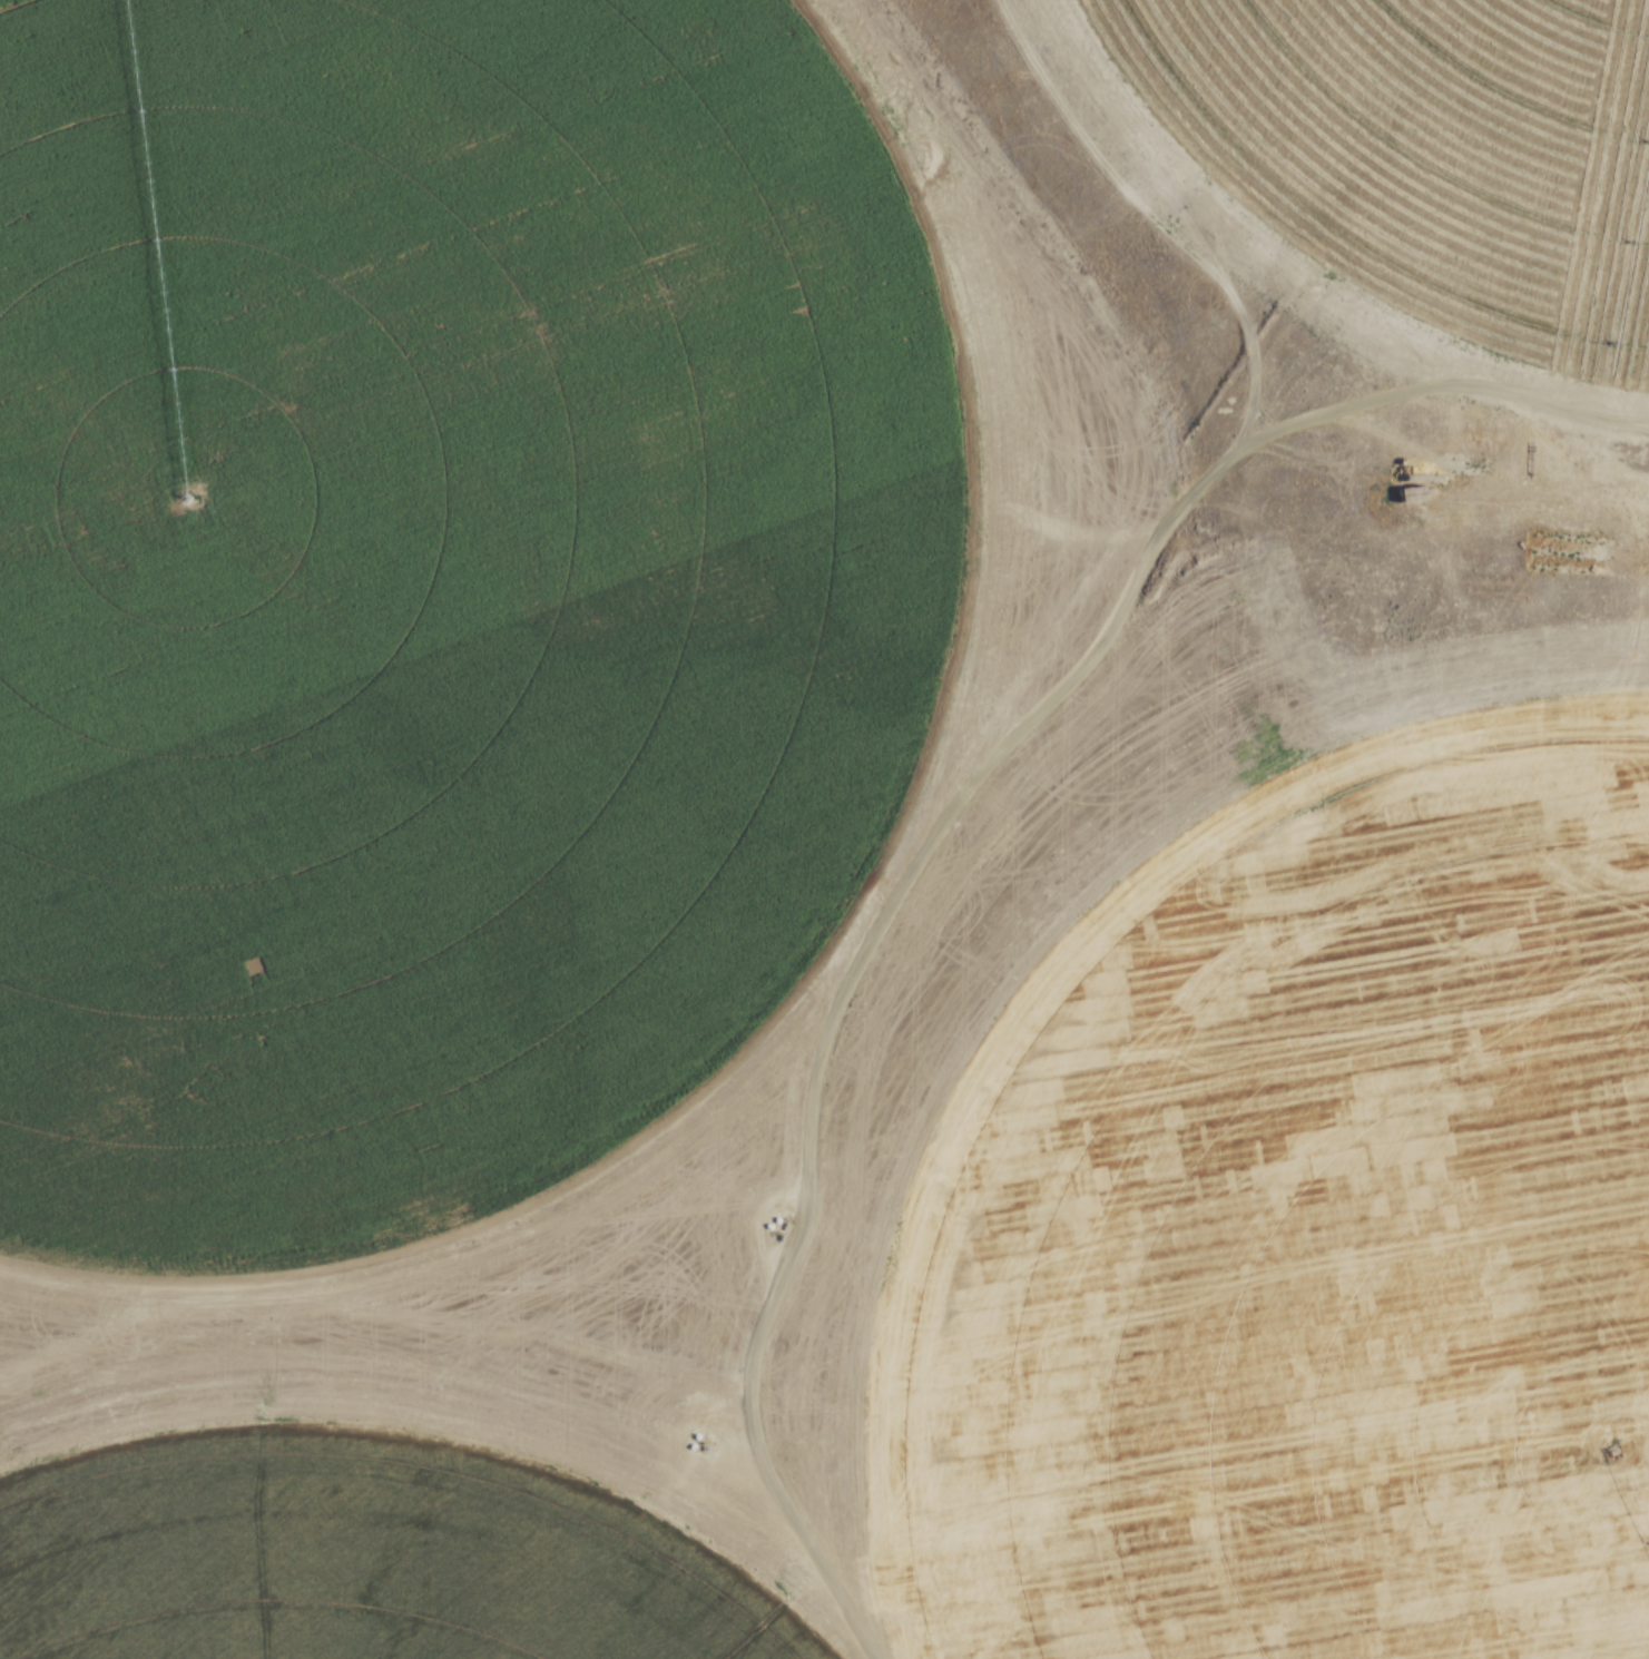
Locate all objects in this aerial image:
crop: (1425, 155)
crop: (433, 590)
crop: (1312, 1220)
crop: (365, 1567)

